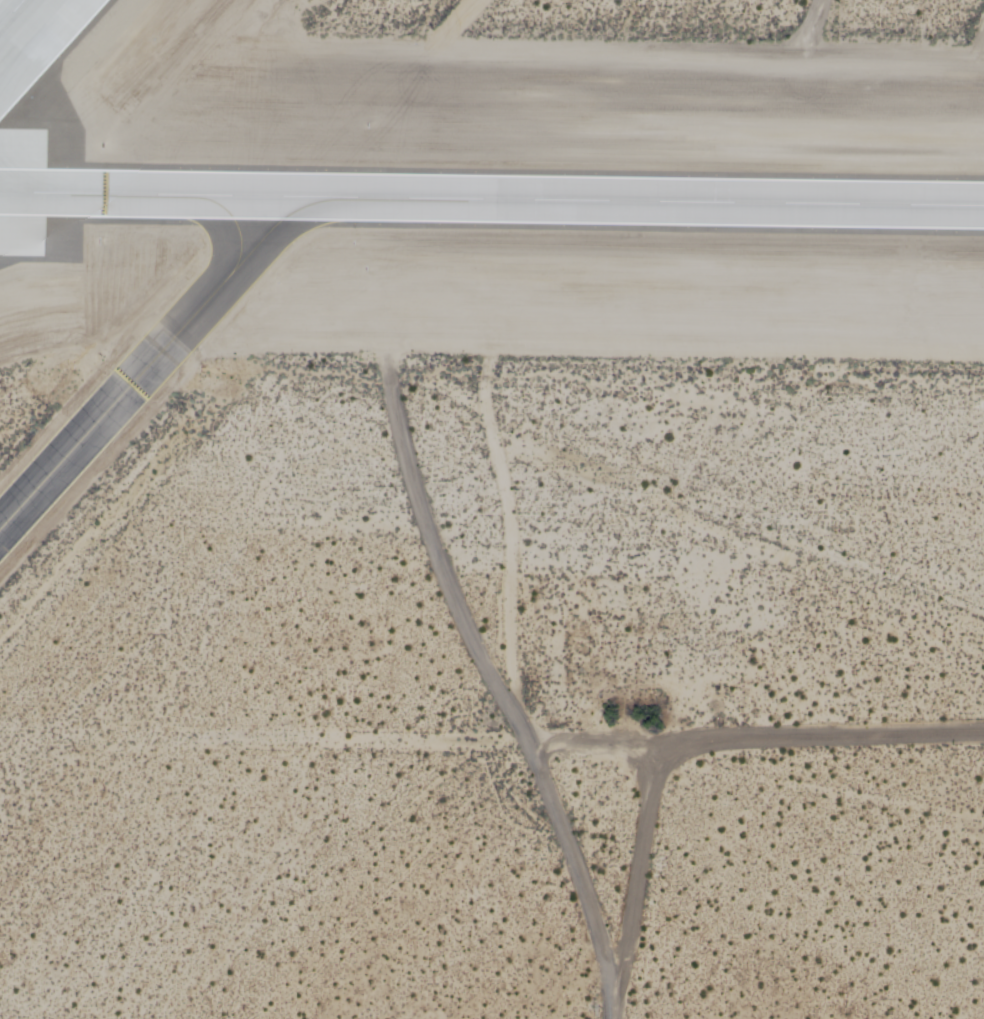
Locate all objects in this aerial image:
airport runway: (10, 11)
airport runway: (492, 199)
airport taxiway: (150, 362)
airport: (492, 509)

